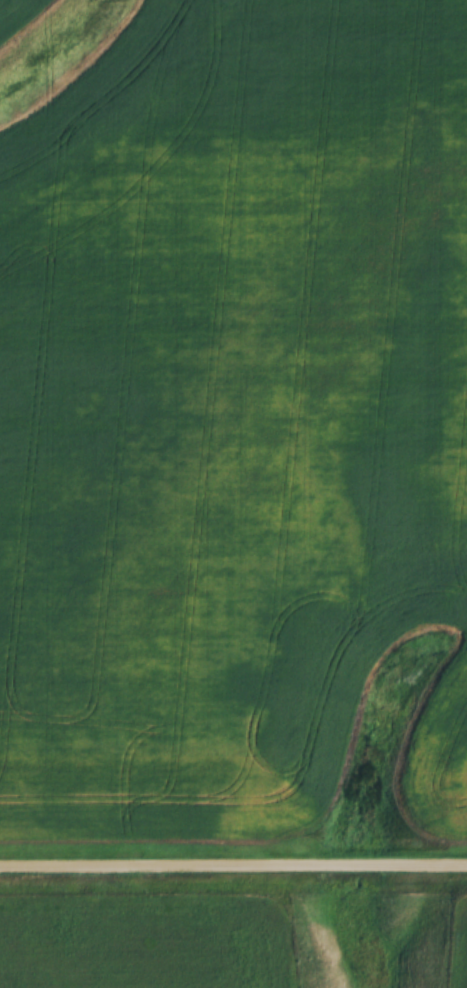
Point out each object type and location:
road: (233, 860)

